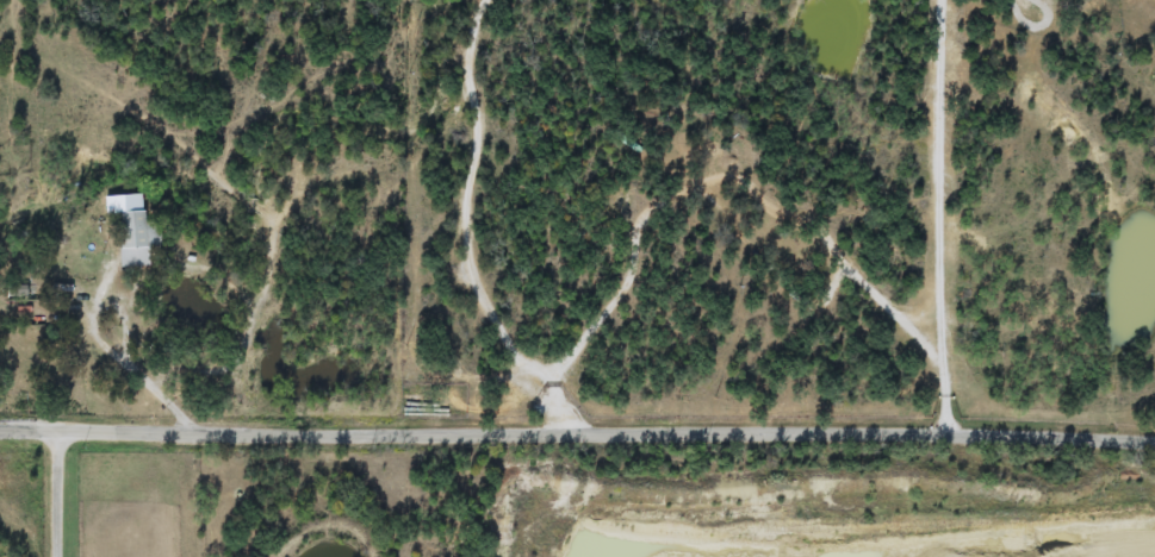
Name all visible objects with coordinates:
road: (940, 174)
road: (740, 180)
road: (472, 202)
building: (137, 232)
building: (15, 290)
road: (820, 432)
road: (243, 433)
road: (58, 493)

